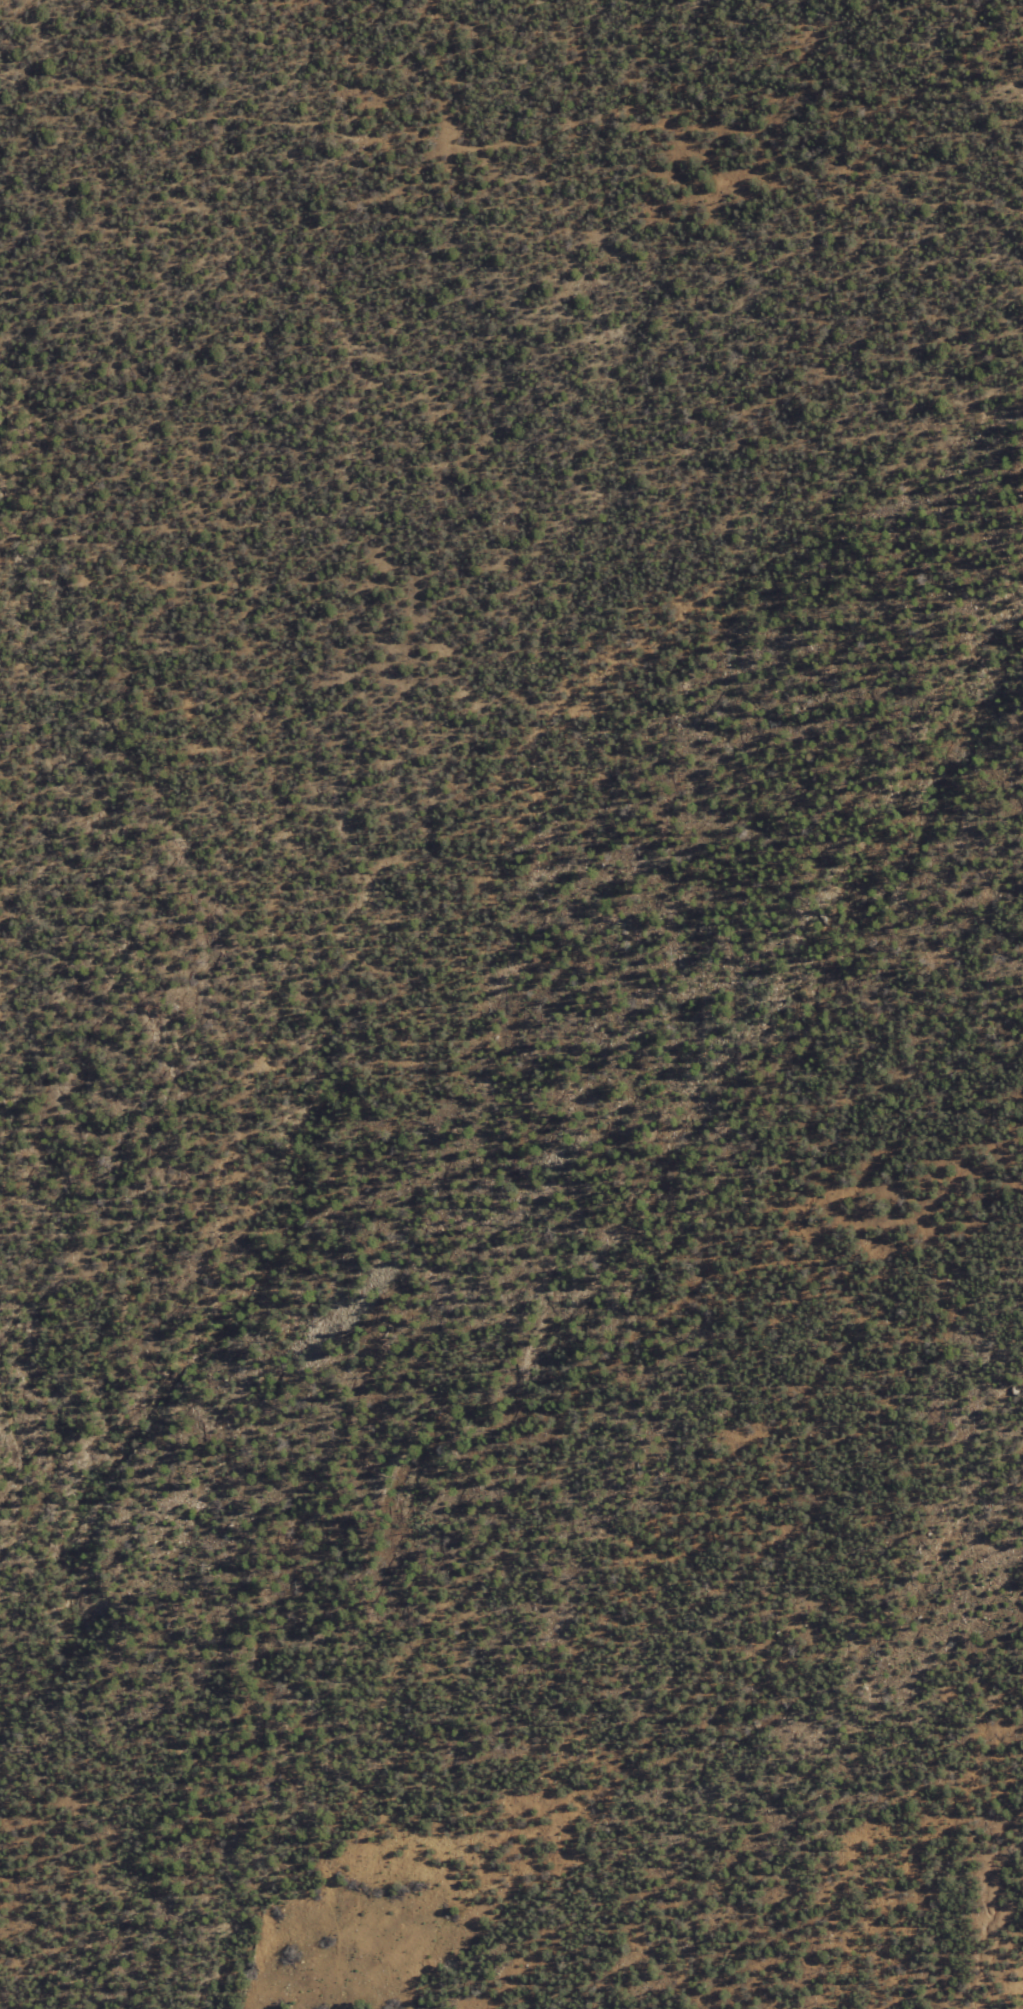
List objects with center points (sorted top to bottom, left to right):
road: (324, 213)

